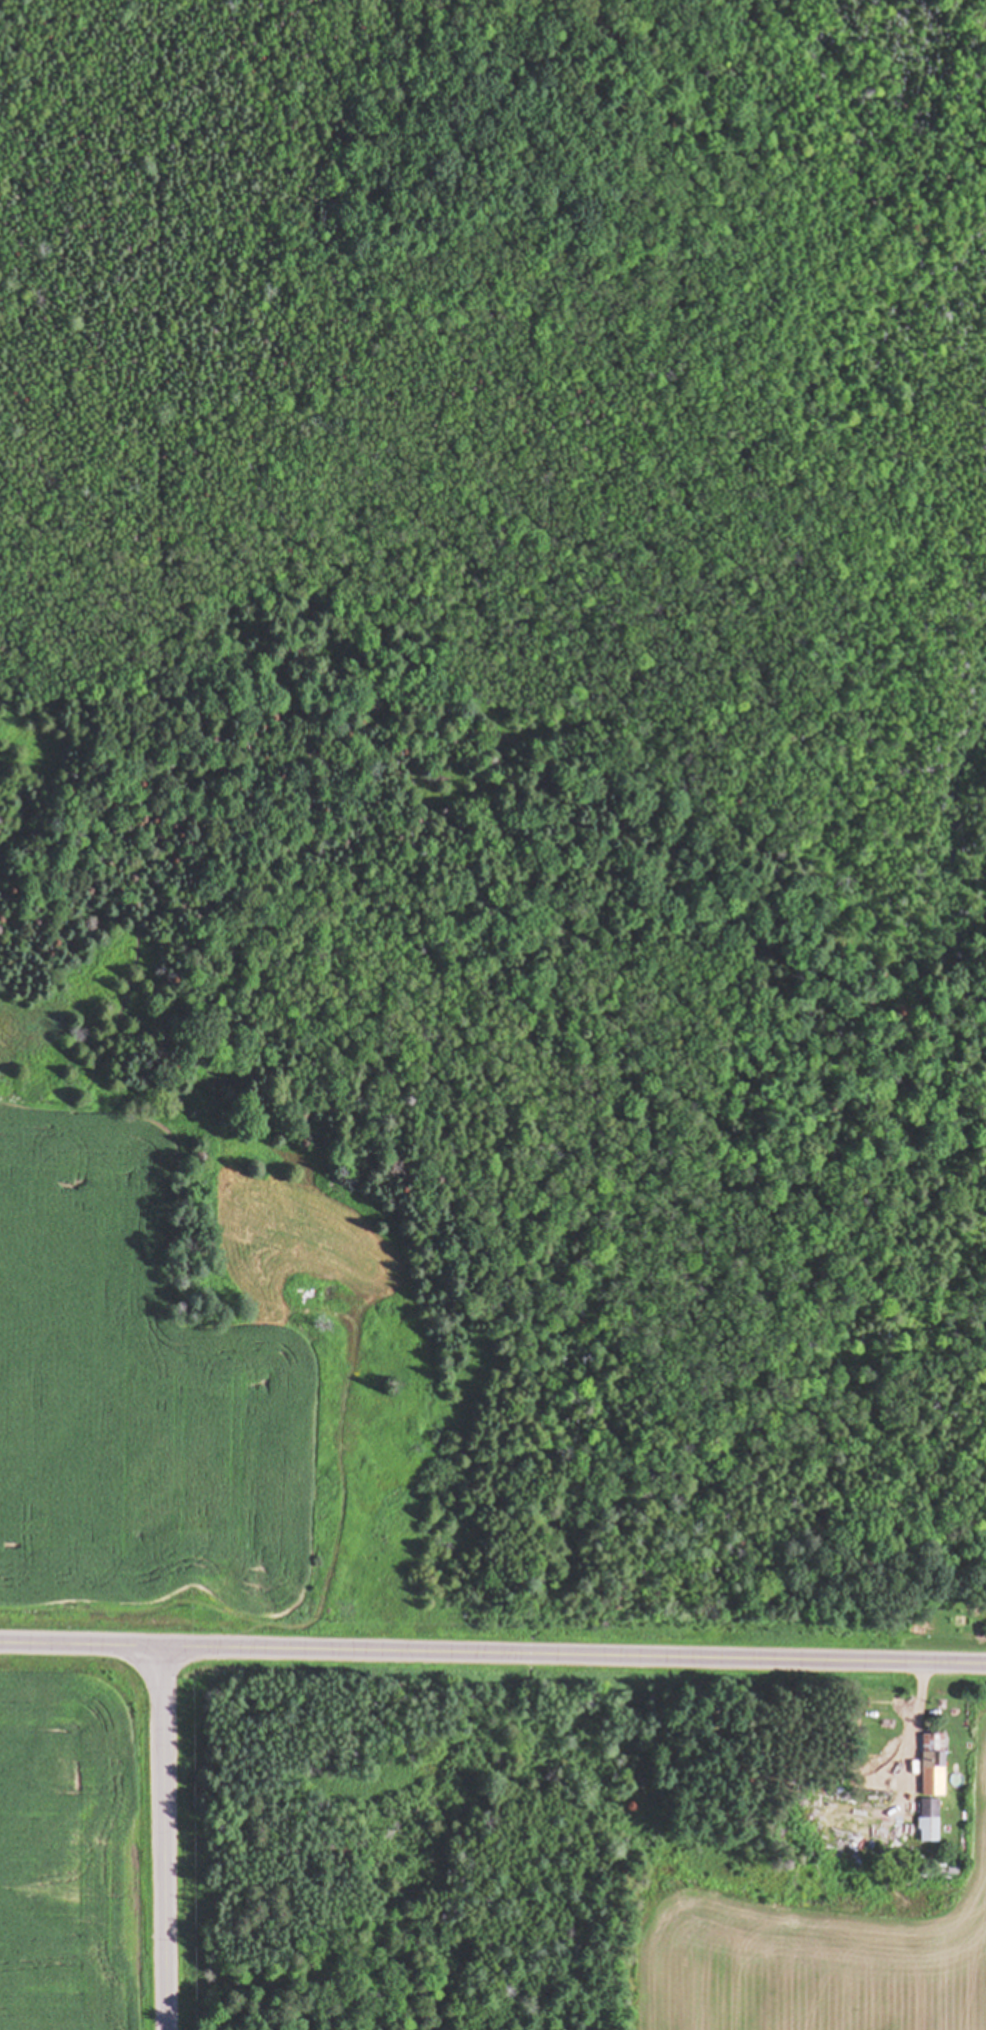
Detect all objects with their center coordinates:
road: (83, 1646)
road: (576, 1656)
building: (934, 1763)
building: (930, 1810)
road: (167, 1839)

